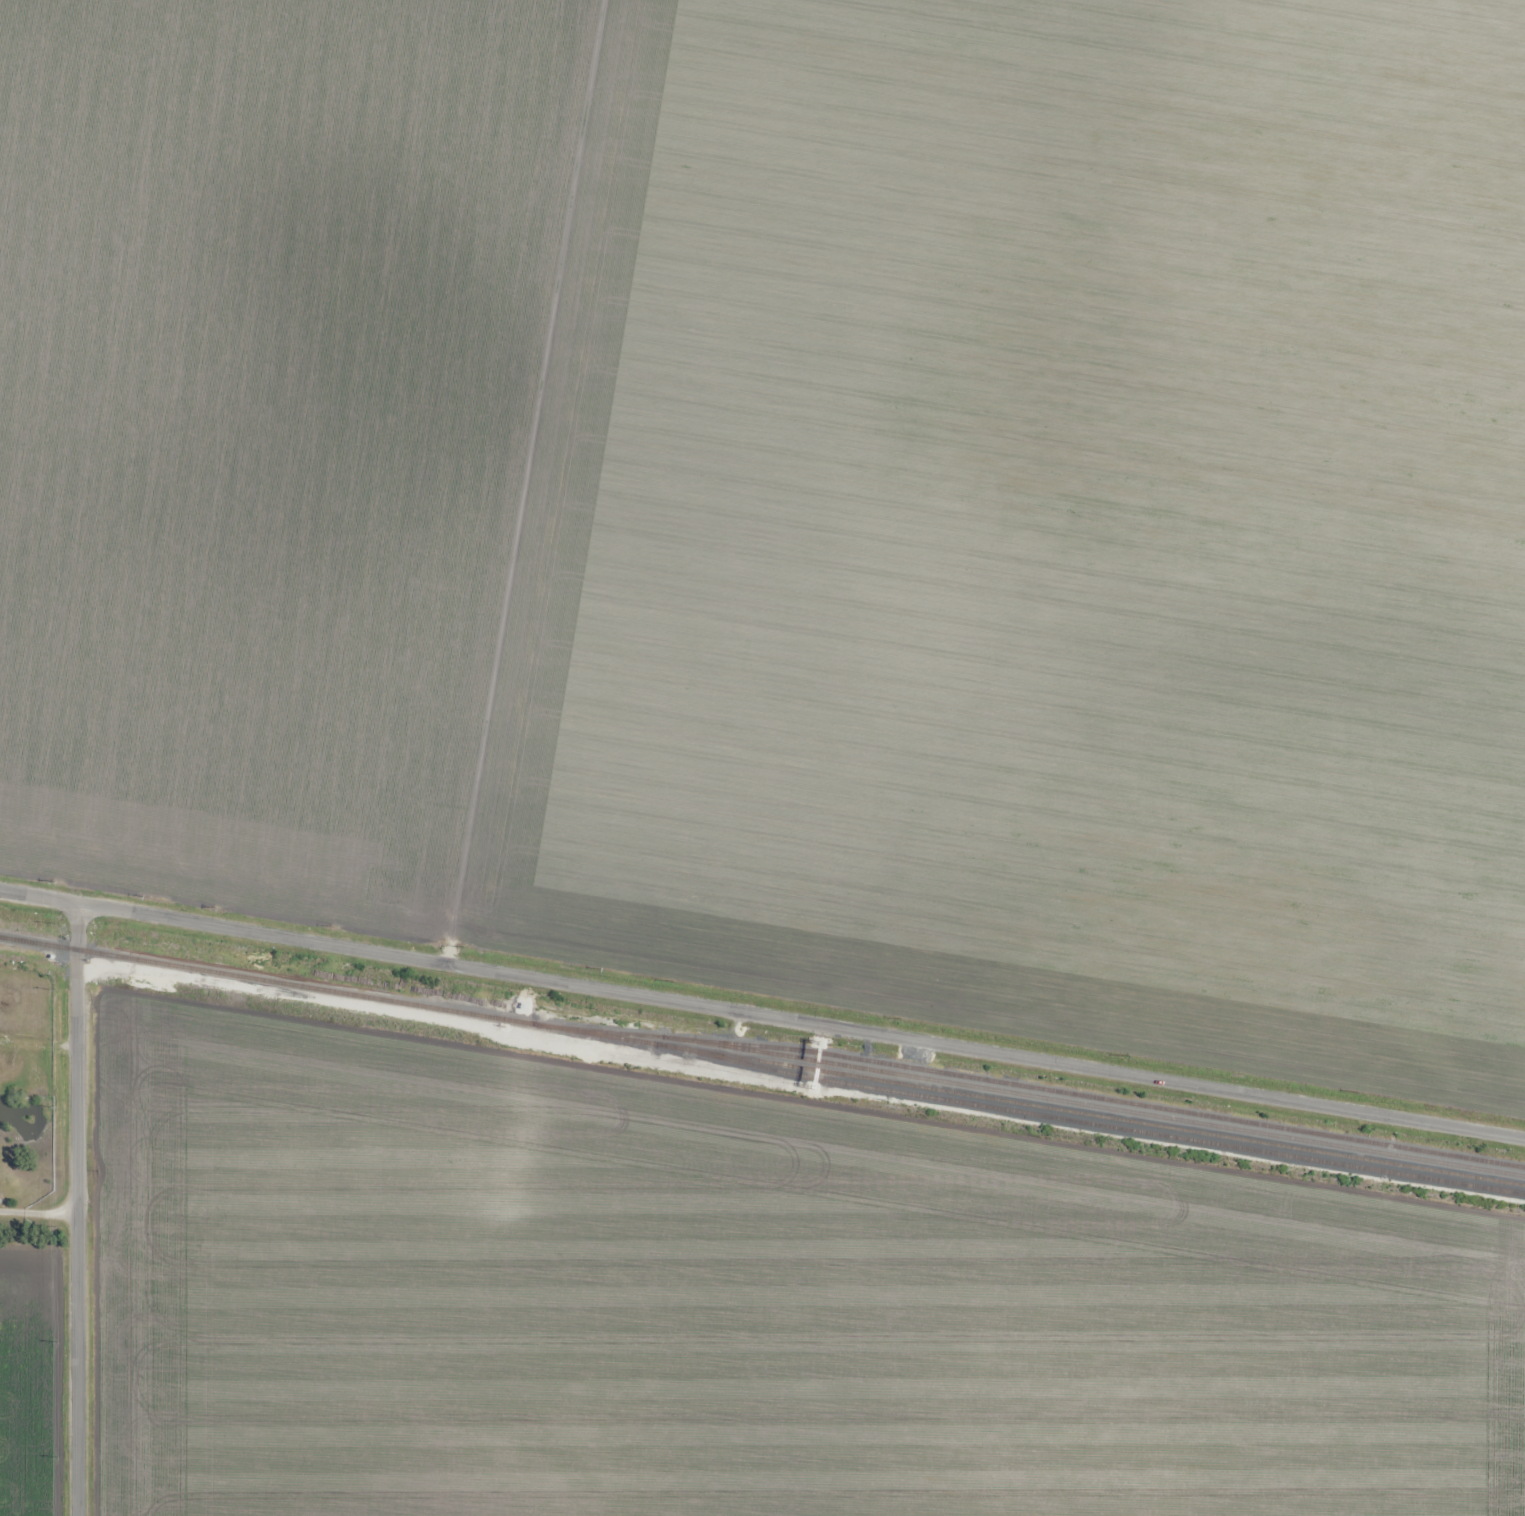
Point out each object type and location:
crop: (794, 496)
road: (762, 1015)
railway: (762, 1060)
railway: (1183, 1117)
road: (79, 1210)

